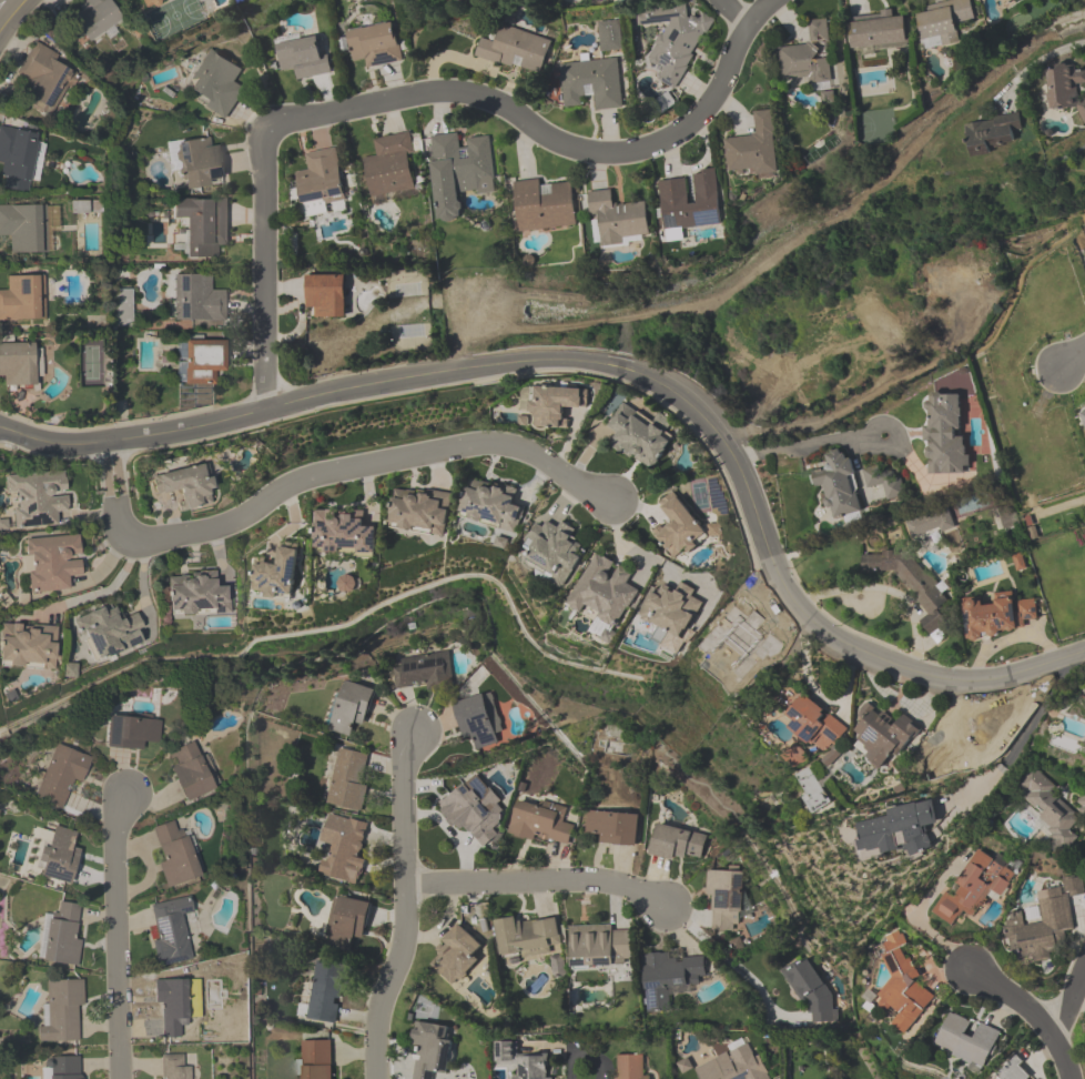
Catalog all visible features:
building: (599, 0)
road: (732, 10)
road: (757, 10)
road: (10, 13)
building: (95, 19)
building: (942, 23)
building: (876, 32)
building: (609, 36)
building: (673, 40)
building: (375, 44)
building: (514, 50)
building: (304, 56)
building: (808, 59)
road: (1035, 62)
building: (45, 82)
building: (215, 82)
building: (591, 83)
building: (1065, 90)
road: (403, 94)
building: (992, 133)
building: (752, 149)
building: (17, 159)
building: (200, 164)
building: (389, 168)
building: (459, 173)
building: (321, 180)
building: (542, 206)
building: (688, 206)
building: (617, 220)
building: (203, 225)
building: (21, 230)
building: (952, 286)
building: (326, 296)
building: (23, 300)
building: (199, 301)
building: (876, 315)
road: (1072, 356)
building: (202, 363)
building: (18, 364)
road: (616, 365)
road: (868, 397)
building: (556, 404)
building: (944, 435)
building: (639, 437)
road: (807, 442)
road: (321, 477)
building: (884, 483)
building: (187, 486)
building: (841, 487)
building: (38, 498)
building: (491, 507)
building: (419, 512)
building: (931, 523)
building: (678, 527)
building: (344, 533)
building: (556, 553)
building: (52, 563)
building: (278, 574)
building: (911, 583)
building: (349, 584)
road: (100, 595)
building: (196, 596)
building: (606, 596)
road: (884, 596)
building: (670, 613)
building: (998, 615)
building: (110, 633)
building: (28, 647)
building: (423, 670)
building: (1083, 696)
building: (351, 709)
building: (479, 719)
building: (813, 726)
building: (132, 732)
building: (881, 738)
road: (1016, 742)
building: (191, 773)
building: (62, 775)
building: (346, 779)
building: (812, 793)
building: (1052, 811)
building: (470, 816)
building: (539, 823)
building: (612, 828)
building: (889, 833)
building: (677, 845)
building: (174, 853)
building: (347, 853)
building: (60, 855)
road: (537, 881)
building: (973, 888)
building: (724, 901)
road: (404, 907)
building: (1044, 924)
building: (346, 925)
building: (173, 930)
road: (116, 934)
building: (61, 935)
building: (528, 937)
building: (599, 946)
building: (457, 955)
road: (730, 964)
building: (669, 977)
building: (902, 985)
building: (811, 992)
building: (325, 994)
road: (1069, 999)
building: (173, 1006)
building: (62, 1012)
road: (1028, 1018)
building: (966, 1042)
building: (429, 1049)
building: (315, 1059)
building: (520, 1061)
building: (628, 1066)
building: (733, 1066)
building: (62, 1067)
building: (173, 1067)
road: (574, 1069)
building: (1014, 1071)

